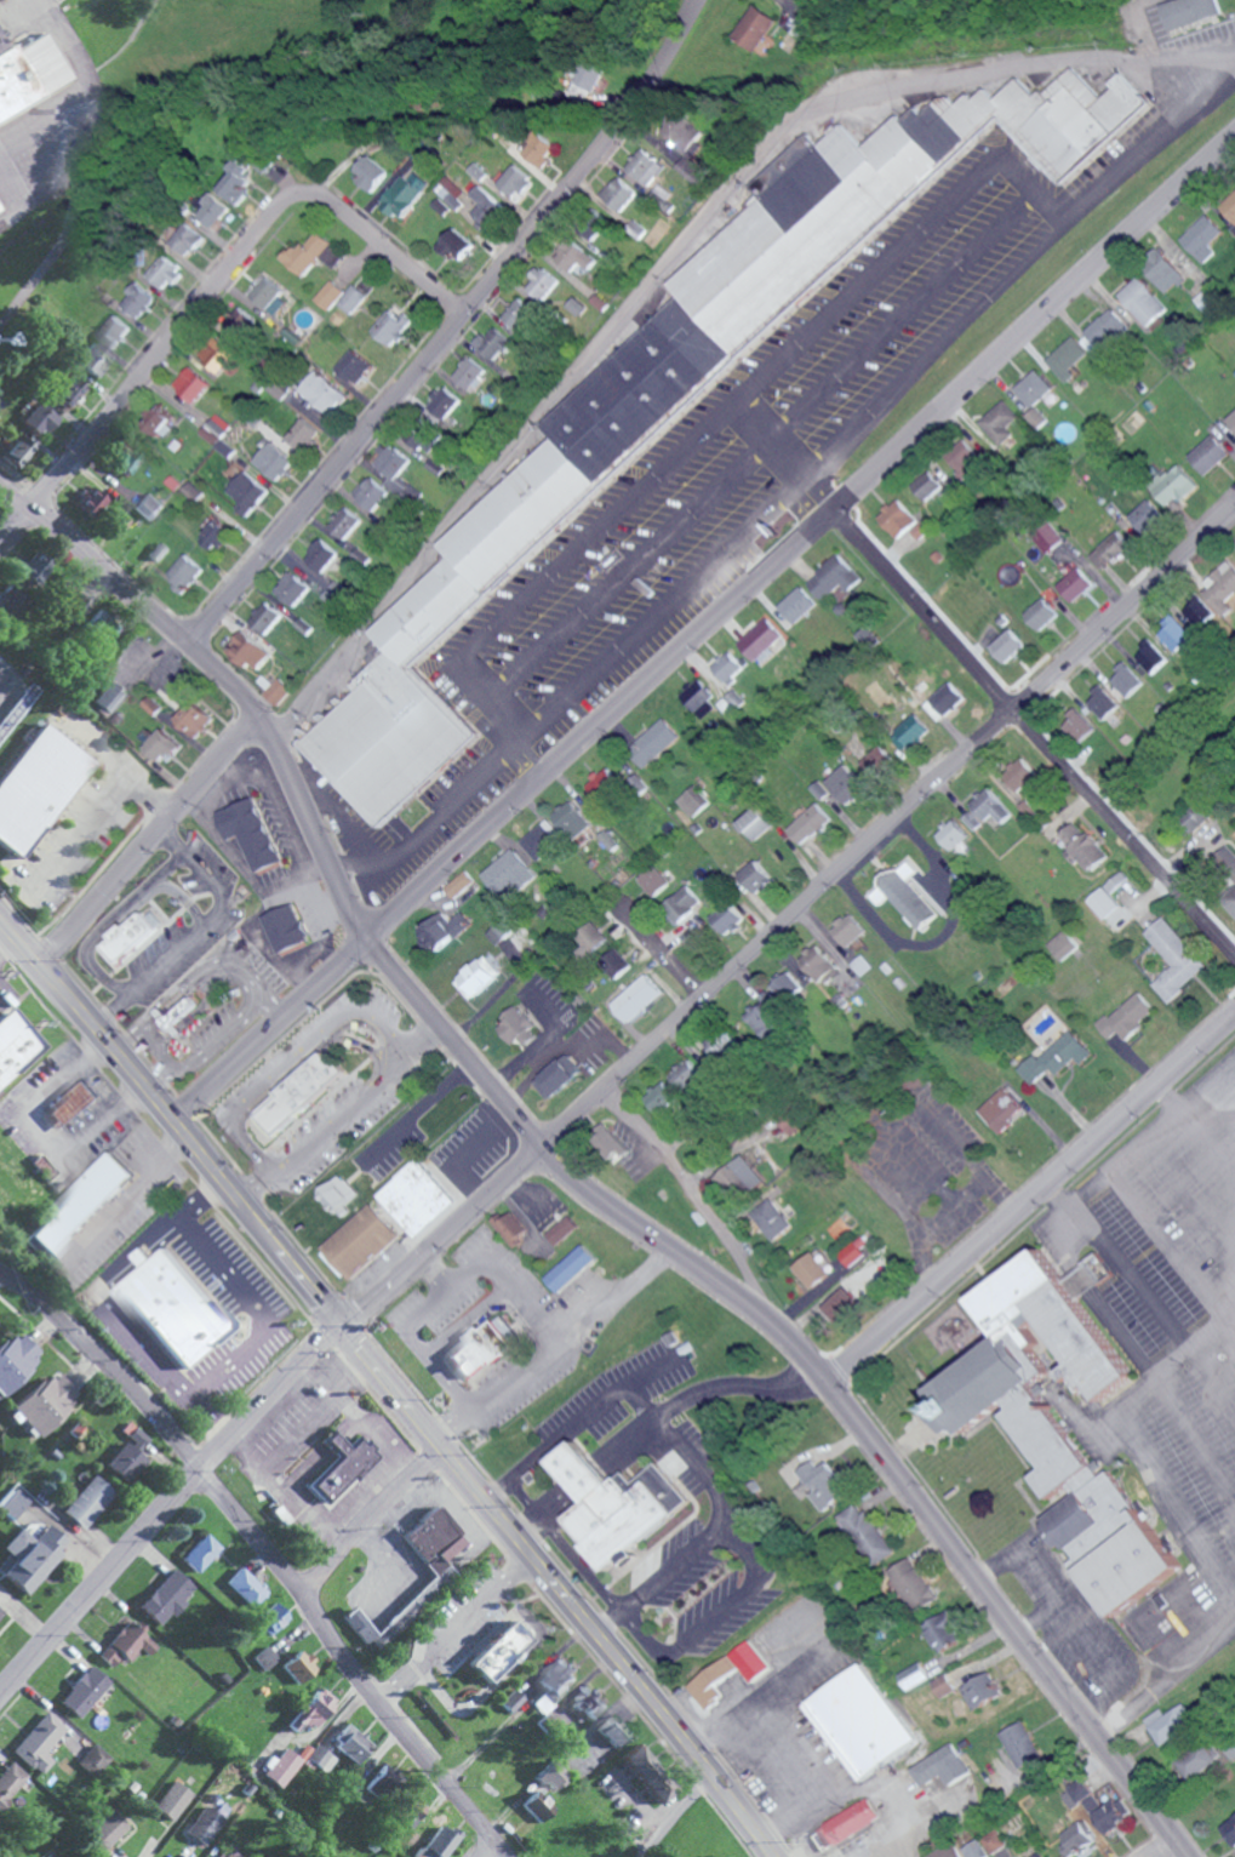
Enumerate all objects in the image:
building: (2, 1)
road: (692, 5)
building: (1190, 11)
building: (757, 29)
building: (29, 75)
building: (590, 80)
building: (673, 124)
building: (688, 133)
building: (539, 145)
building: (647, 166)
building: (692, 168)
building: (371, 172)
building: (515, 181)
building: (238, 182)
building: (622, 193)
building: (405, 194)
building: (470, 199)
building: (1230, 206)
building: (216, 210)
building: (598, 227)
building: (187, 236)
building: (1206, 238)
building: (456, 244)
road: (381, 250)
building: (305, 253)
building: (332, 255)
building: (576, 256)
building: (1166, 270)
building: (167, 273)
building: (541, 286)
building: (328, 295)
building: (270, 296)
building: (141, 299)
building: (350, 299)
building: (1145, 301)
building: (1217, 302)
building: (577, 305)
building: (519, 314)
building: (241, 322)
building: (389, 326)
building: (1109, 328)
road: (452, 330)
building: (115, 331)
building: (493, 343)
building: (217, 354)
road: (793, 356)
building: (90, 359)
building: (1068, 359)
road: (144, 362)
building: (353, 366)
building: (470, 373)
building: (193, 384)
building: (322, 393)
building: (673, 394)
building: (442, 402)
building: (36, 419)
building: (158, 419)
building: (1233, 419)
building: (1002, 424)
building: (215, 428)
building: (302, 434)
building: (423, 440)
building: (13, 446)
road: (771, 451)
building: (1212, 455)
building: (273, 461)
building: (389, 461)
building: (968, 461)
building: (128, 463)
road: (806, 479)
building: (1176, 485)
building: (928, 490)
building: (189, 492)
building: (246, 492)
building: (370, 493)
building: (90, 499)
building: (148, 505)
building: (1147, 514)
building: (898, 520)
building: (342, 522)
building: (216, 535)
building: (1110, 550)
building: (324, 560)
building: (831, 577)
building: (1074, 582)
building: (22, 585)
building: (1222, 587)
building: (290, 588)
building: (853, 593)
building: (796, 605)
building: (1199, 608)
building: (1041, 613)
building: (262, 617)
building: (93, 619)
road: (703, 629)
building: (1176, 633)
building: (759, 639)
building: (1005, 645)
building: (246, 650)
building: (1151, 658)
building: (726, 668)
building: (1126, 679)
building: (275, 691)
building: (1, 697)
building: (108, 698)
building: (1102, 703)
building: (150, 705)
building: (703, 705)
building: (193, 719)
building: (1080, 726)
building: (909, 732)
road: (1030, 741)
building: (653, 742)
building: (158, 743)
building: (877, 759)
building: (1020, 775)
building: (604, 783)
building: (845, 784)
building: (35, 787)
building: (692, 801)
road: (96, 808)
building: (987, 810)
building: (1196, 816)
building: (570, 819)
building: (808, 823)
building: (755, 824)
building: (247, 833)
building: (956, 838)
building: (542, 839)
building: (607, 840)
road: (149, 845)
building: (1084, 845)
road: (405, 852)
building: (1227, 862)
building: (509, 873)
building: (754, 876)
building: (652, 880)
building: (1114, 881)
building: (459, 885)
building: (905, 896)
building: (1104, 903)
building: (1231, 904)
building: (681, 907)
building: (727, 920)
road: (787, 921)
road: (0, 924)
building: (284, 928)
building: (441, 930)
building: (847, 930)
building: (593, 936)
building: (126, 937)
road: (7, 944)
building: (1063, 945)
road: (657, 953)
building: (1174, 959)
building: (616, 962)
building: (817, 964)
road: (230, 966)
building: (478, 977)
building: (784, 988)
building: (636, 999)
road: (269, 1006)
building: (175, 1015)
building: (764, 1016)
building: (1126, 1017)
building: (516, 1027)
building: (717, 1046)
building: (16, 1051)
building: (1056, 1058)
road: (154, 1075)
building: (684, 1075)
building: (558, 1076)
building: (297, 1092)
building: (658, 1098)
road: (1167, 1098)
building: (73, 1105)
building: (1000, 1110)
road: (416, 1112)
road: (339, 1114)
road: (40, 1136)
building: (607, 1144)
road: (1137, 1144)
building: (738, 1176)
road: (581, 1181)
building: (338, 1195)
road: (1031, 1195)
road: (201, 1198)
building: (416, 1199)
road: (688, 1200)
building: (79, 1206)
building: (768, 1219)
building: (509, 1227)
building: (561, 1229)
building: (358, 1241)
building: (850, 1255)
building: (568, 1269)
building: (810, 1270)
road: (613, 1296)
building: (841, 1305)
road: (107, 1307)
building: (172, 1308)
road: (256, 1309)
road: (411, 1318)
road: (545, 1330)
road: (440, 1341)
building: (474, 1350)
building: (16, 1360)
road: (1160, 1376)
road: (389, 1385)
road: (739, 1387)
building: (45, 1404)
road: (646, 1405)
building: (1050, 1412)
road: (362, 1421)
road: (210, 1422)
road: (562, 1436)
building: (127, 1456)
building: (342, 1465)
road: (697, 1468)
building: (821, 1484)
road: (497, 1492)
building: (86, 1501)
building: (15, 1503)
building: (614, 1504)
road: (167, 1509)
road: (370, 1524)
road: (525, 1526)
building: (868, 1531)
building: (201, 1552)
road: (267, 1553)
building: (28, 1559)
road: (673, 1567)
road: (584, 1573)
building: (913, 1583)
building: (246, 1587)
building: (428, 1590)
building: (166, 1596)
road: (717, 1613)
building: (0, 1616)
building: (271, 1618)
road: (601, 1618)
road: (453, 1629)
building: (944, 1629)
building: (126, 1642)
building: (498, 1650)
building: (267, 1657)
building: (749, 1659)
building: (299, 1665)
road: (795, 1674)
building: (915, 1674)
road: (1170, 1678)
building: (710, 1680)
building: (554, 1682)
building: (944, 1685)
building: (983, 1689)
building: (84, 1691)
building: (589, 1701)
building: (313, 1709)
building: (861, 1720)
building: (1168, 1721)
building: (612, 1731)
road: (779, 1739)
building: (39, 1742)
building: (1020, 1743)
building: (351, 1744)
building: (1229, 1748)
building: (320, 1756)
building: (1196, 1759)
building: (95, 1760)
building: (940, 1765)
building: (281, 1767)
building: (648, 1772)
building: (550, 1773)
building: (10, 1781)
building: (383, 1783)
building: (1076, 1793)
building: (173, 1799)
building: (538, 1805)
building: (408, 1810)
building: (1107, 1812)
road: (674, 1813)
building: (847, 1822)
building: (206, 1824)
building: (108, 1829)
building: (1075, 1836)
building: (1233, 1836)
building: (991, 1840)
building: (438, 1842)
road: (1150, 1844)
road: (482, 1847)
building: (974, 1849)
road: (75, 1855)
building: (1036, 1855)
building: (225, 1856)

